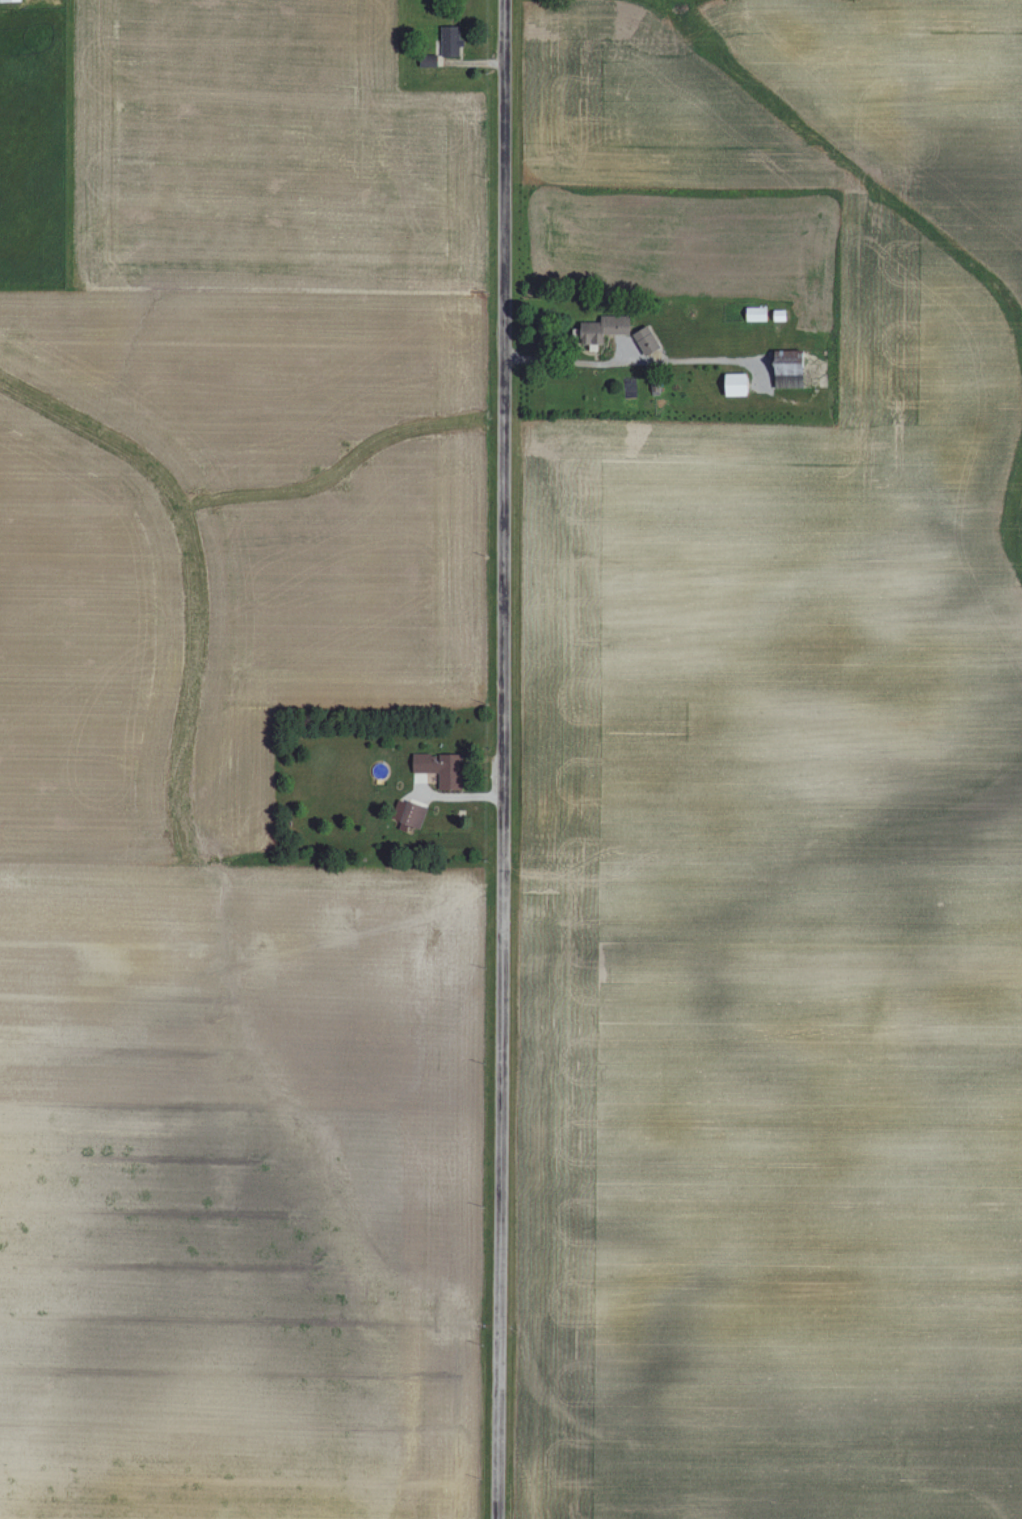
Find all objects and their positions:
building: (447, 41)
building: (597, 330)
building: (641, 340)
road: (621, 361)
building: (782, 368)
building: (730, 384)
road: (498, 759)
building: (436, 768)
building: (410, 815)

